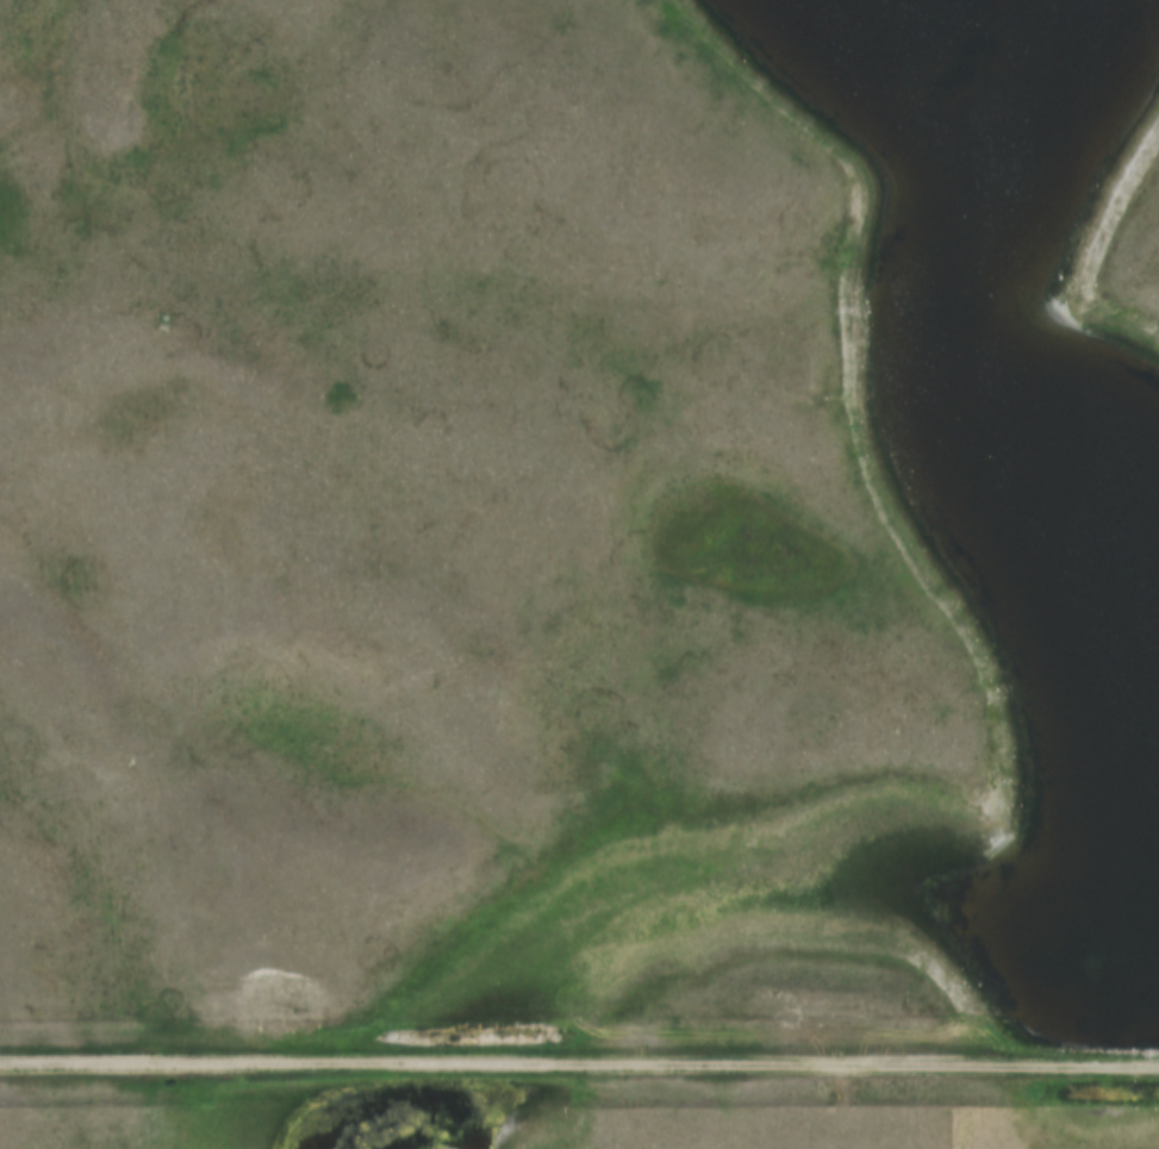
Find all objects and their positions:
road: (579, 1062)

